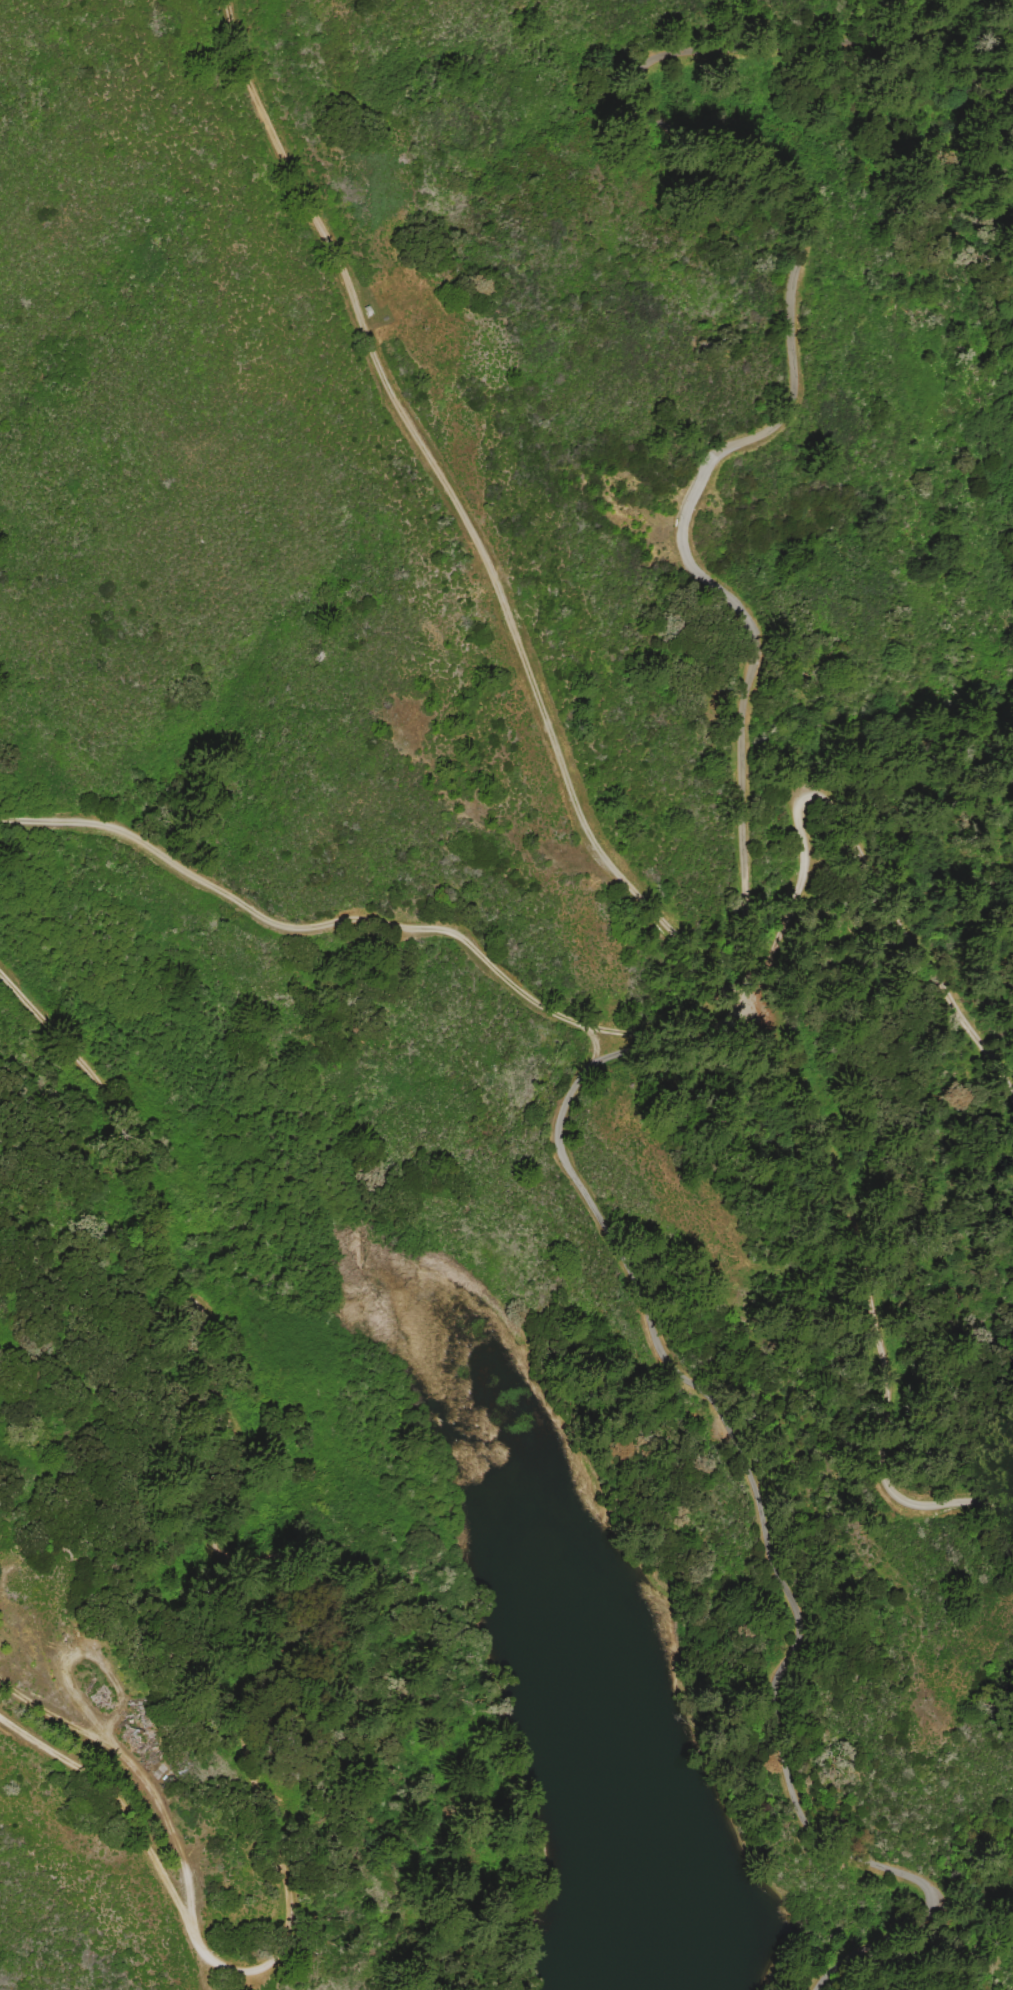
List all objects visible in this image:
road: (788, 398)
road: (465, 514)
road: (860, 819)
road: (372, 927)
road: (46, 1020)
road: (867, 1297)
road: (770, 1528)
road: (278, 1661)

